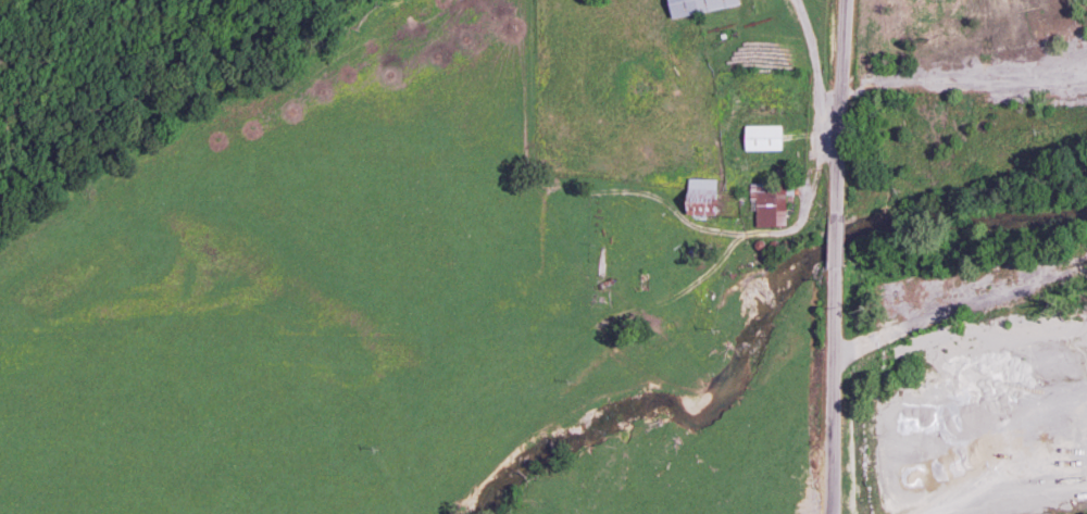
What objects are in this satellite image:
building: (698, 7)
road: (814, 63)
road: (845, 109)
building: (763, 137)
building: (702, 197)
building: (770, 205)
road: (839, 245)
road: (836, 391)
road: (1014, 498)

